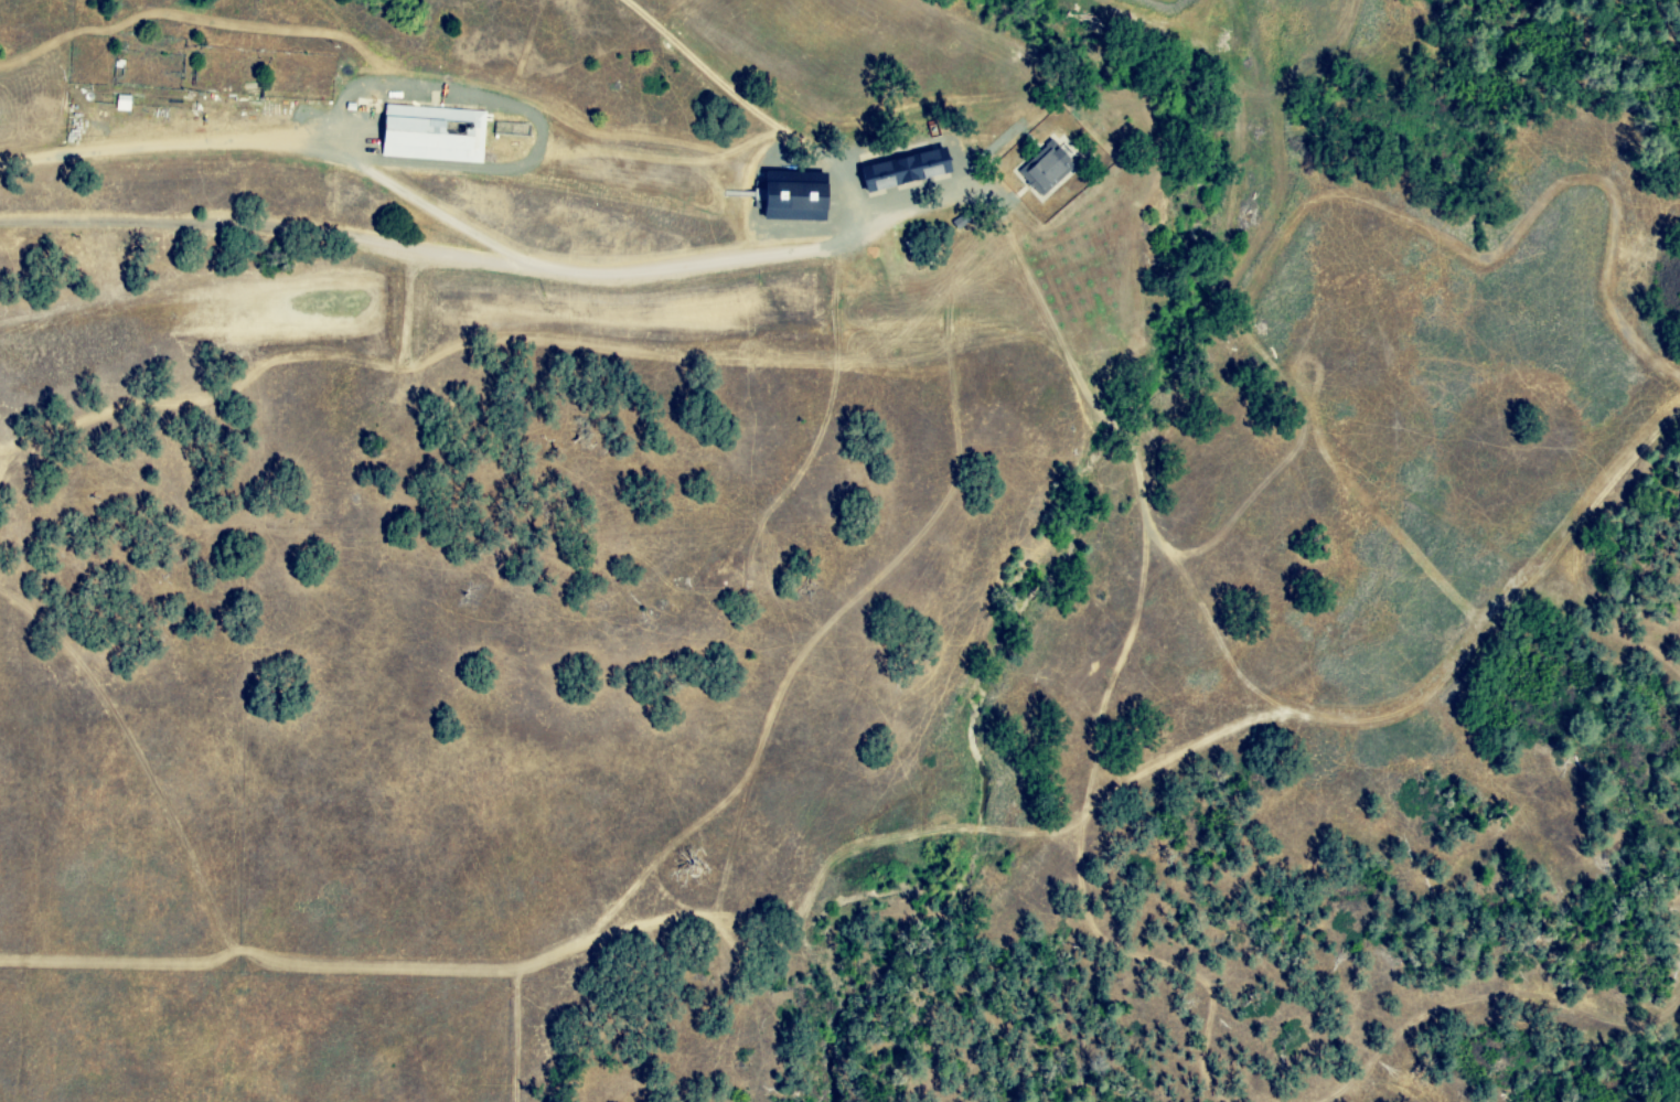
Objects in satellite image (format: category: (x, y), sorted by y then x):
building: (428, 133)
building: (898, 170)
building: (1042, 170)
building: (788, 197)
road: (557, 272)

